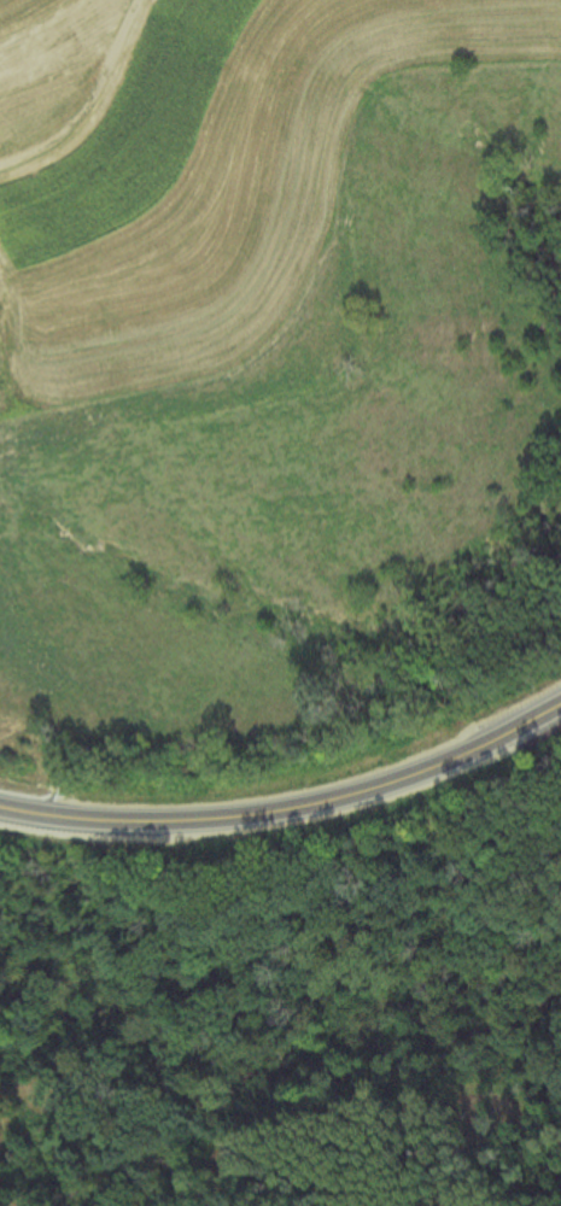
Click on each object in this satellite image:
road: (290, 803)

